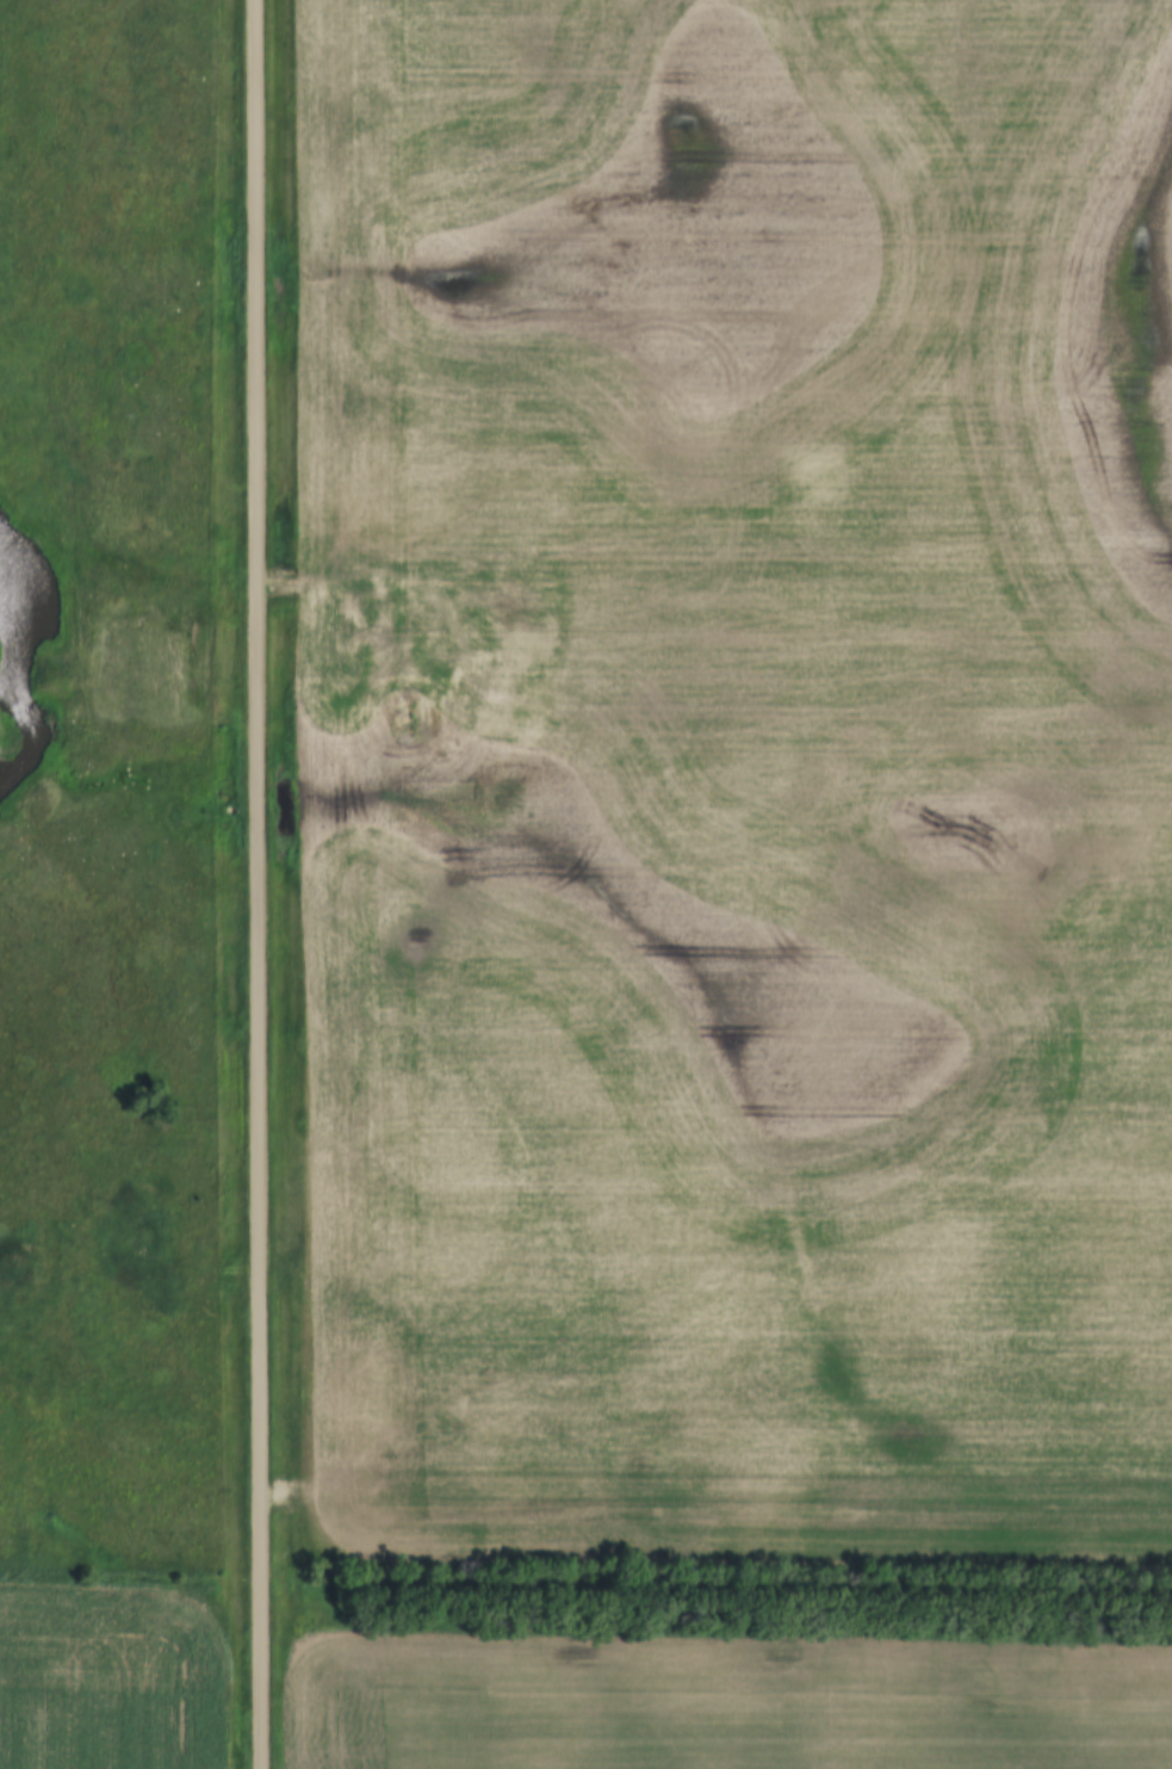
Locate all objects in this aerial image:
road: (255, 884)

